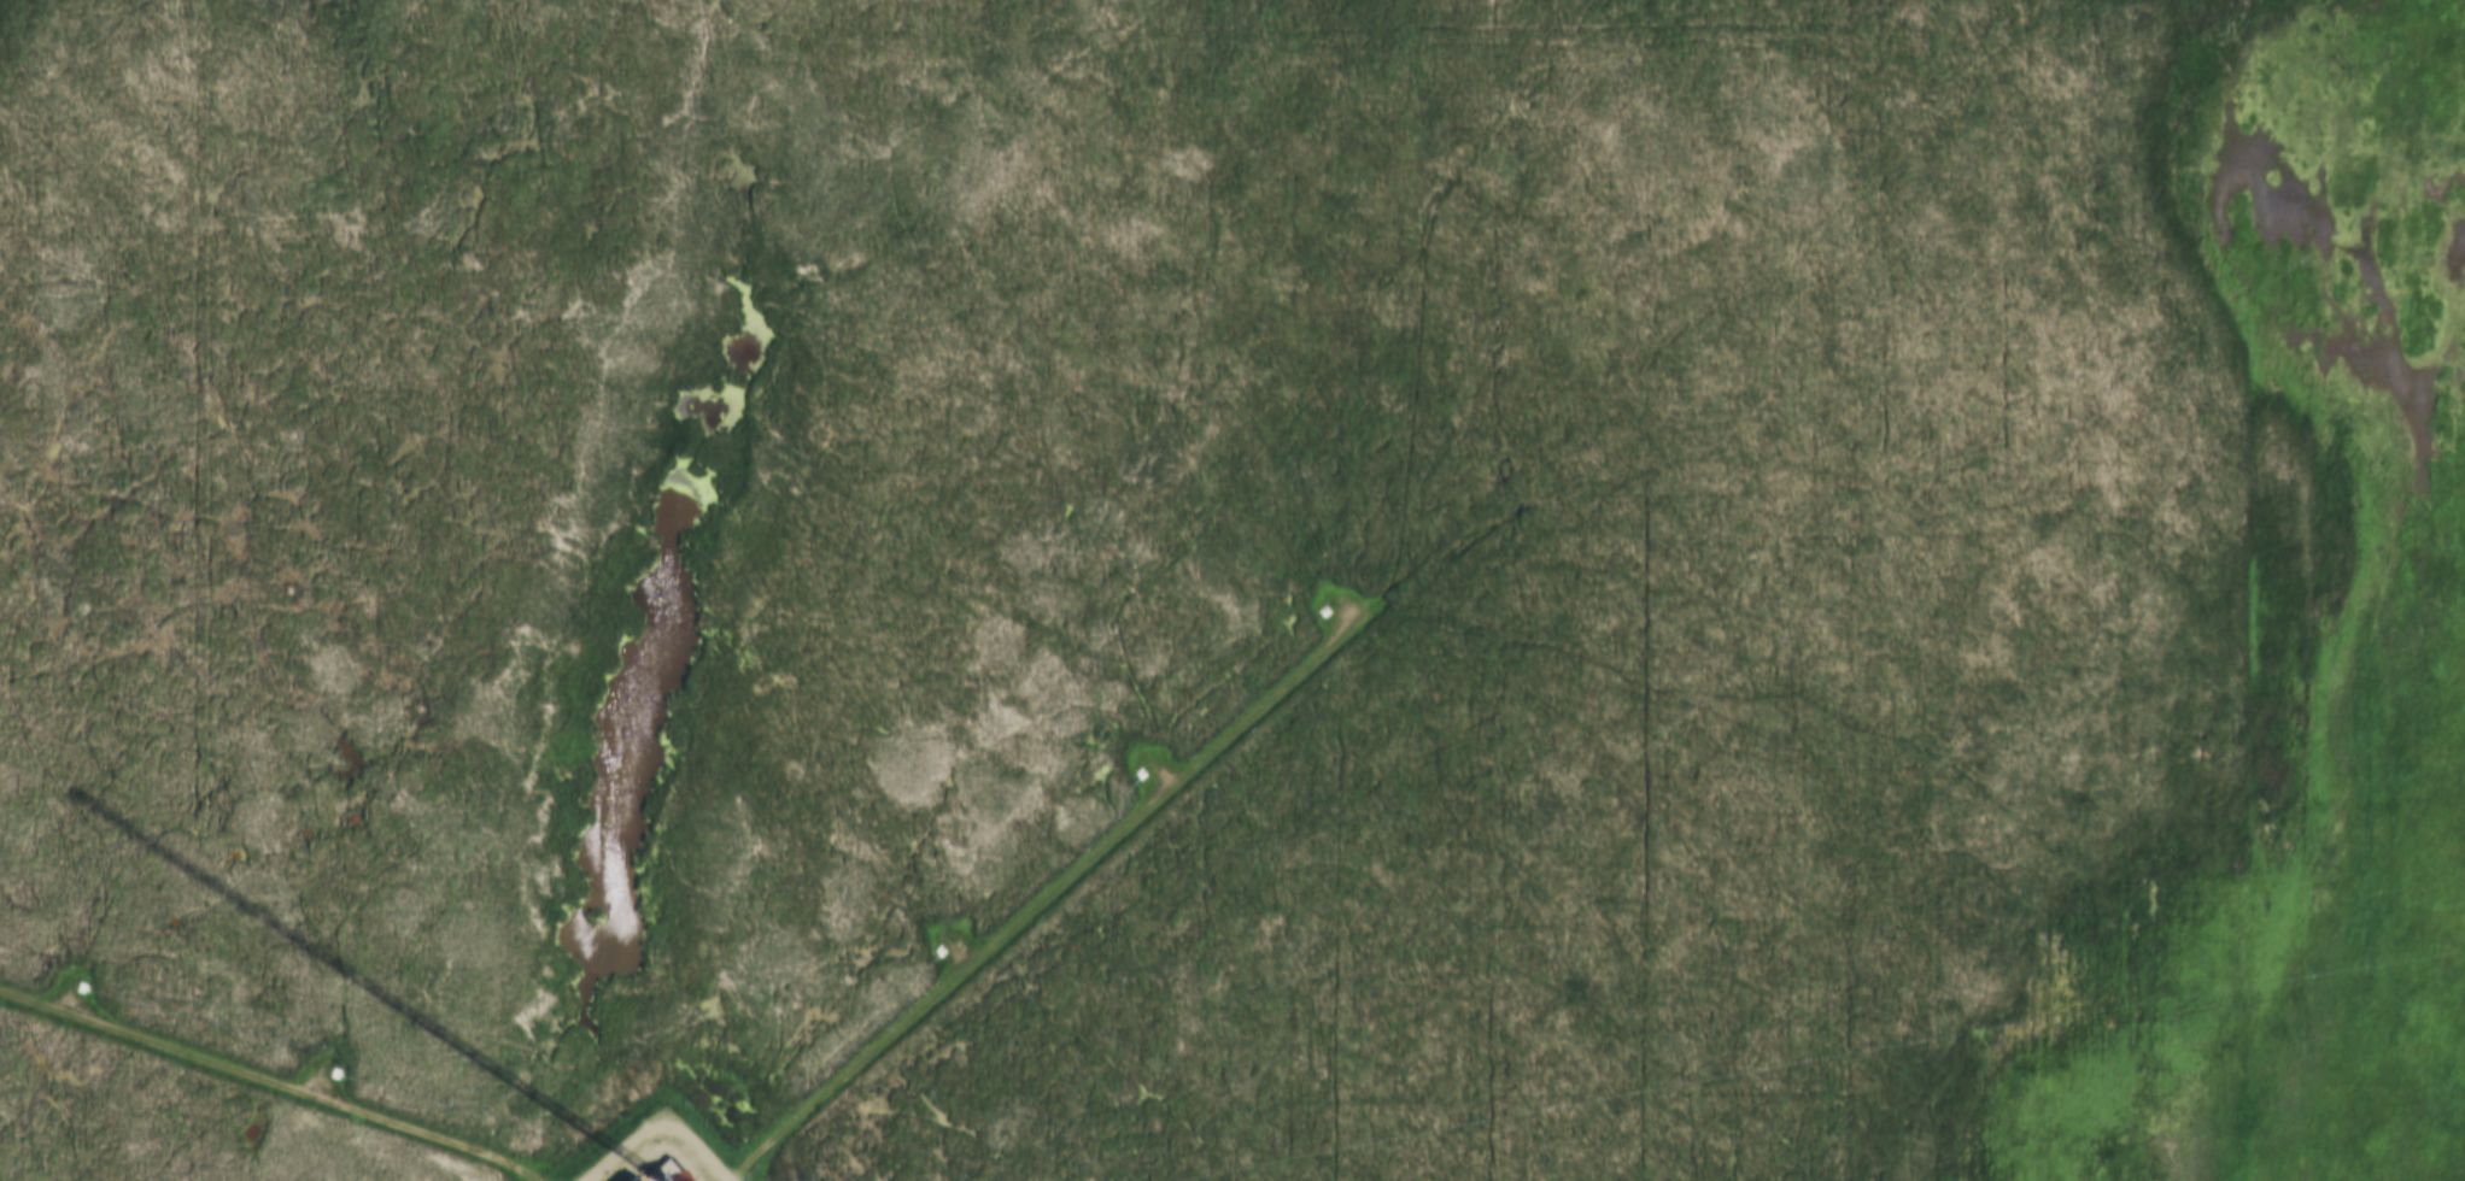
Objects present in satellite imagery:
road: (1037, 897)
road: (268, 1083)
road: (662, 1147)
building: (661, 1171)
building: (631, 1177)

